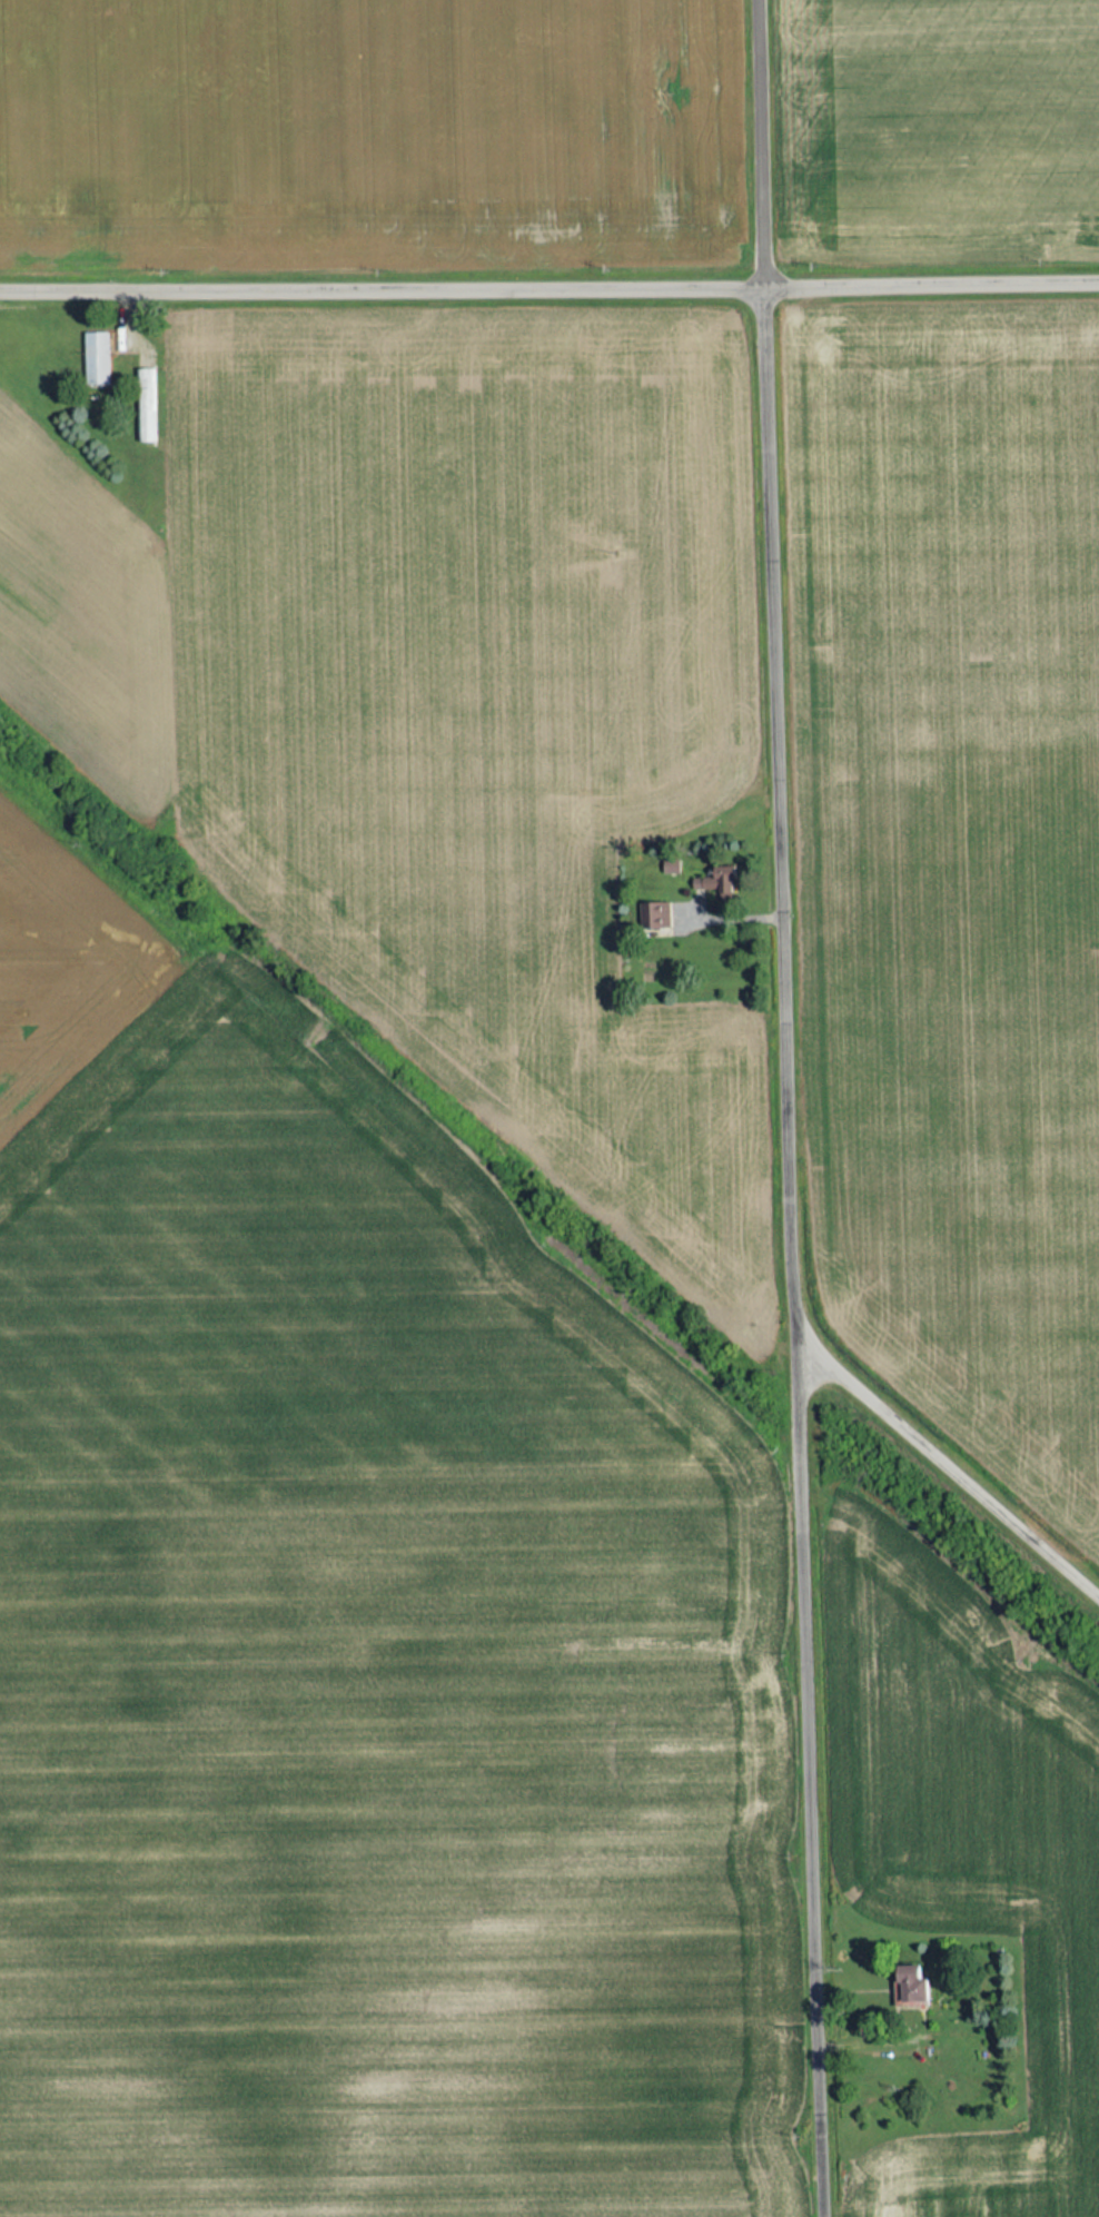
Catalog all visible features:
crop: (939, 126)
crop: (370, 130)
road: (548, 277)
building: (97, 358)
crop: (443, 706)
crop: (960, 857)
building: (653, 915)
crop: (61, 966)
road: (794, 1108)
railway: (548, 1217)
road: (954, 1464)
crop: (360, 1691)
crop: (973, 1854)
building: (900, 1983)

